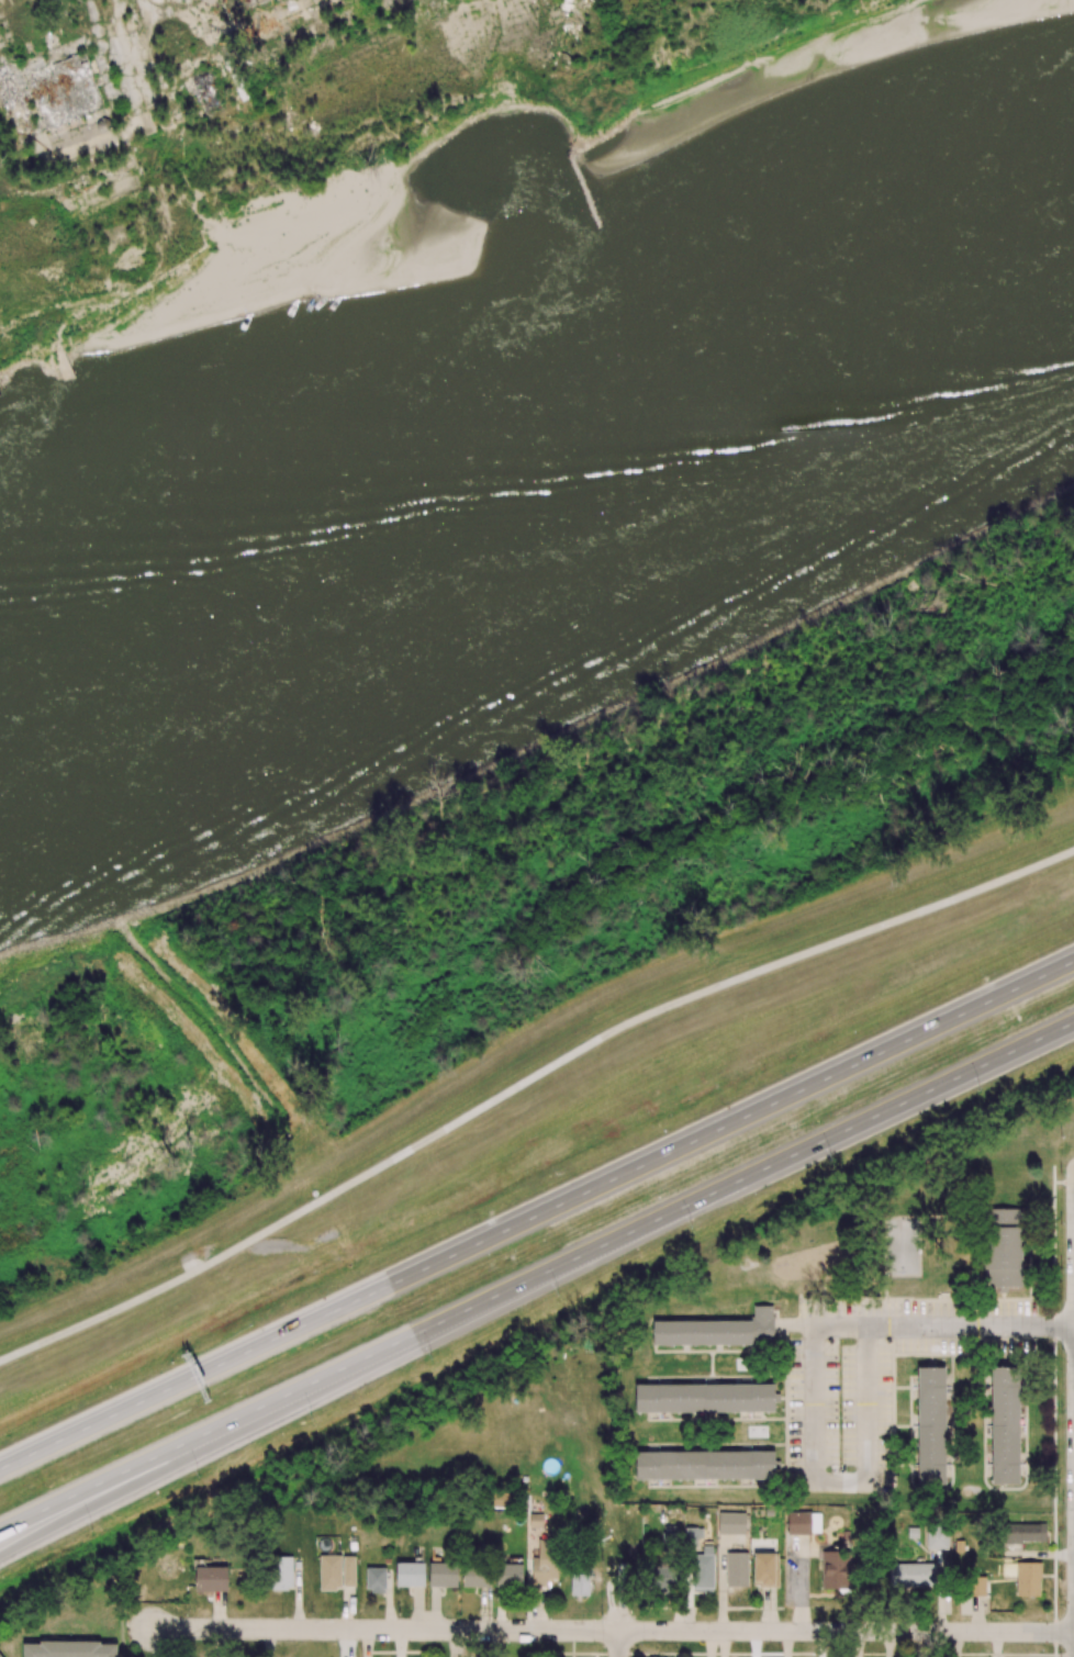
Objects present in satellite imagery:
building: (65, 91)
building: (205, 91)
park: (381, 153)
river: (548, 484)
river: (154, 687)
road: (526, 1084)
road: (537, 1213)
building: (1003, 1249)
road: (536, 1279)
road: (970, 1325)
building: (717, 1330)
building: (705, 1398)
building: (930, 1424)
building: (1004, 1425)
building: (705, 1465)
road: (812, 1484)
building: (731, 1523)
building: (804, 1523)
building: (1025, 1533)
building: (693, 1534)
building: (937, 1537)
building: (545, 1563)
building: (736, 1567)
building: (703, 1568)
building: (348, 1569)
building: (834, 1569)
building: (765, 1570)
building: (329, 1571)
building: (410, 1571)
building: (282, 1572)
building: (443, 1575)
building: (508, 1575)
building: (911, 1575)
building: (476, 1576)
building: (662, 1577)
building: (211, 1579)
building: (376, 1579)
building: (1028, 1579)
building: (976, 1586)
road: (612, 1631)
road: (619, 1632)
building: (69, 1649)
building: (0, 1655)

